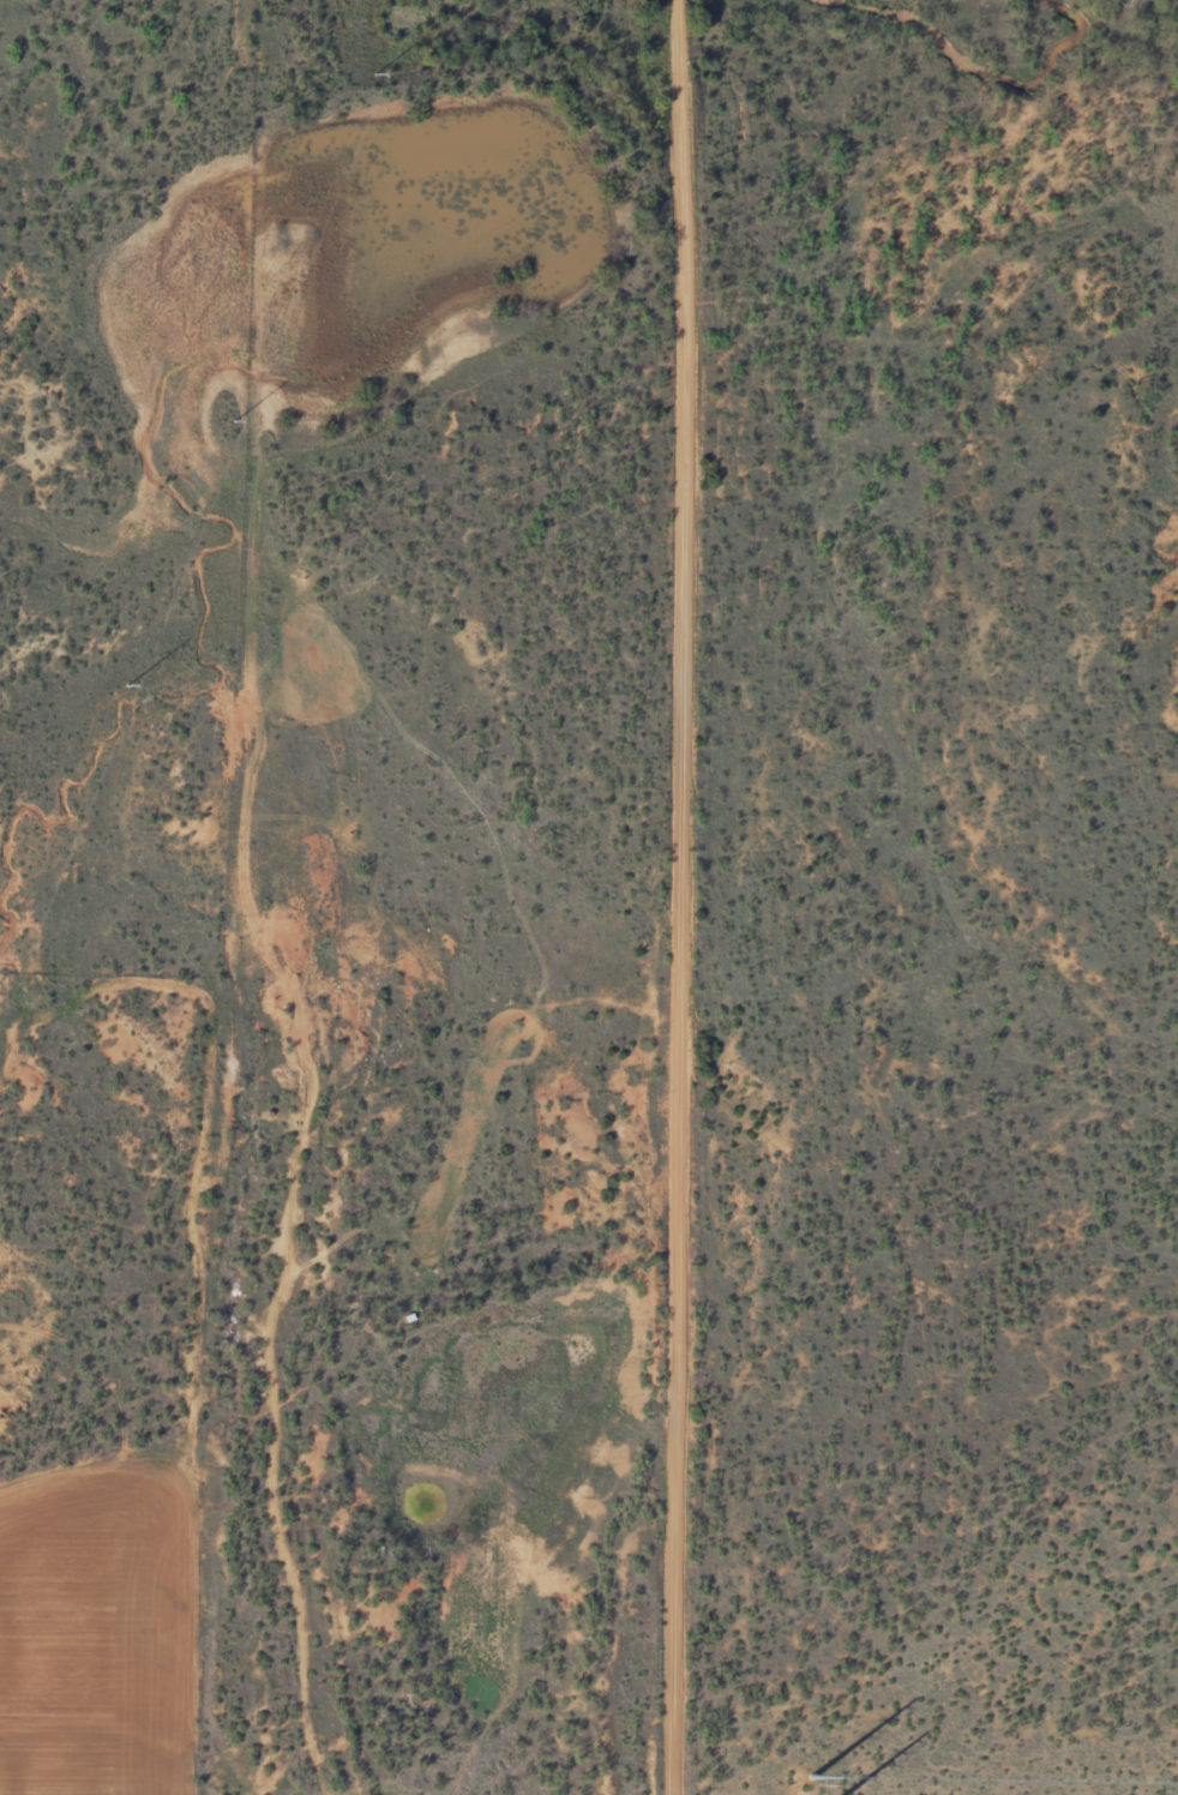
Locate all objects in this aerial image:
power tower: (297, 269)
power tower: (130, 679)
road: (686, 896)
road: (282, 1622)
power tower: (813, 1794)

